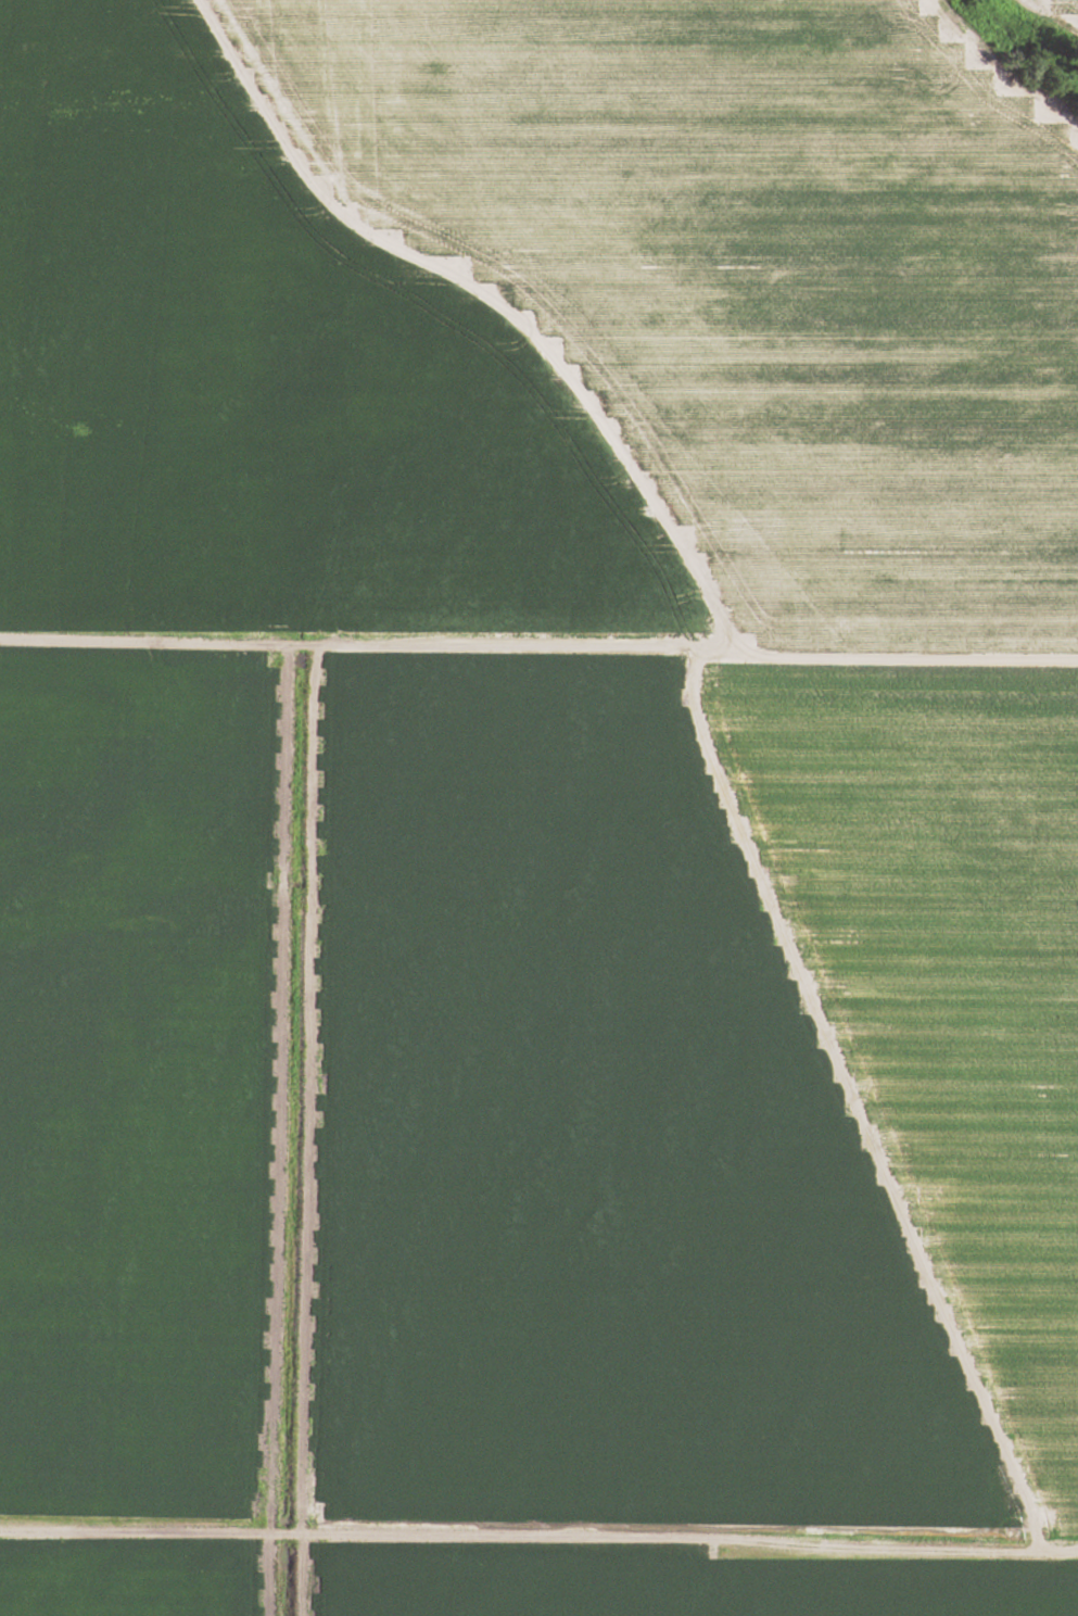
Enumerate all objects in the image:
road: (538, 652)
road: (845, 1104)
road: (538, 1539)

